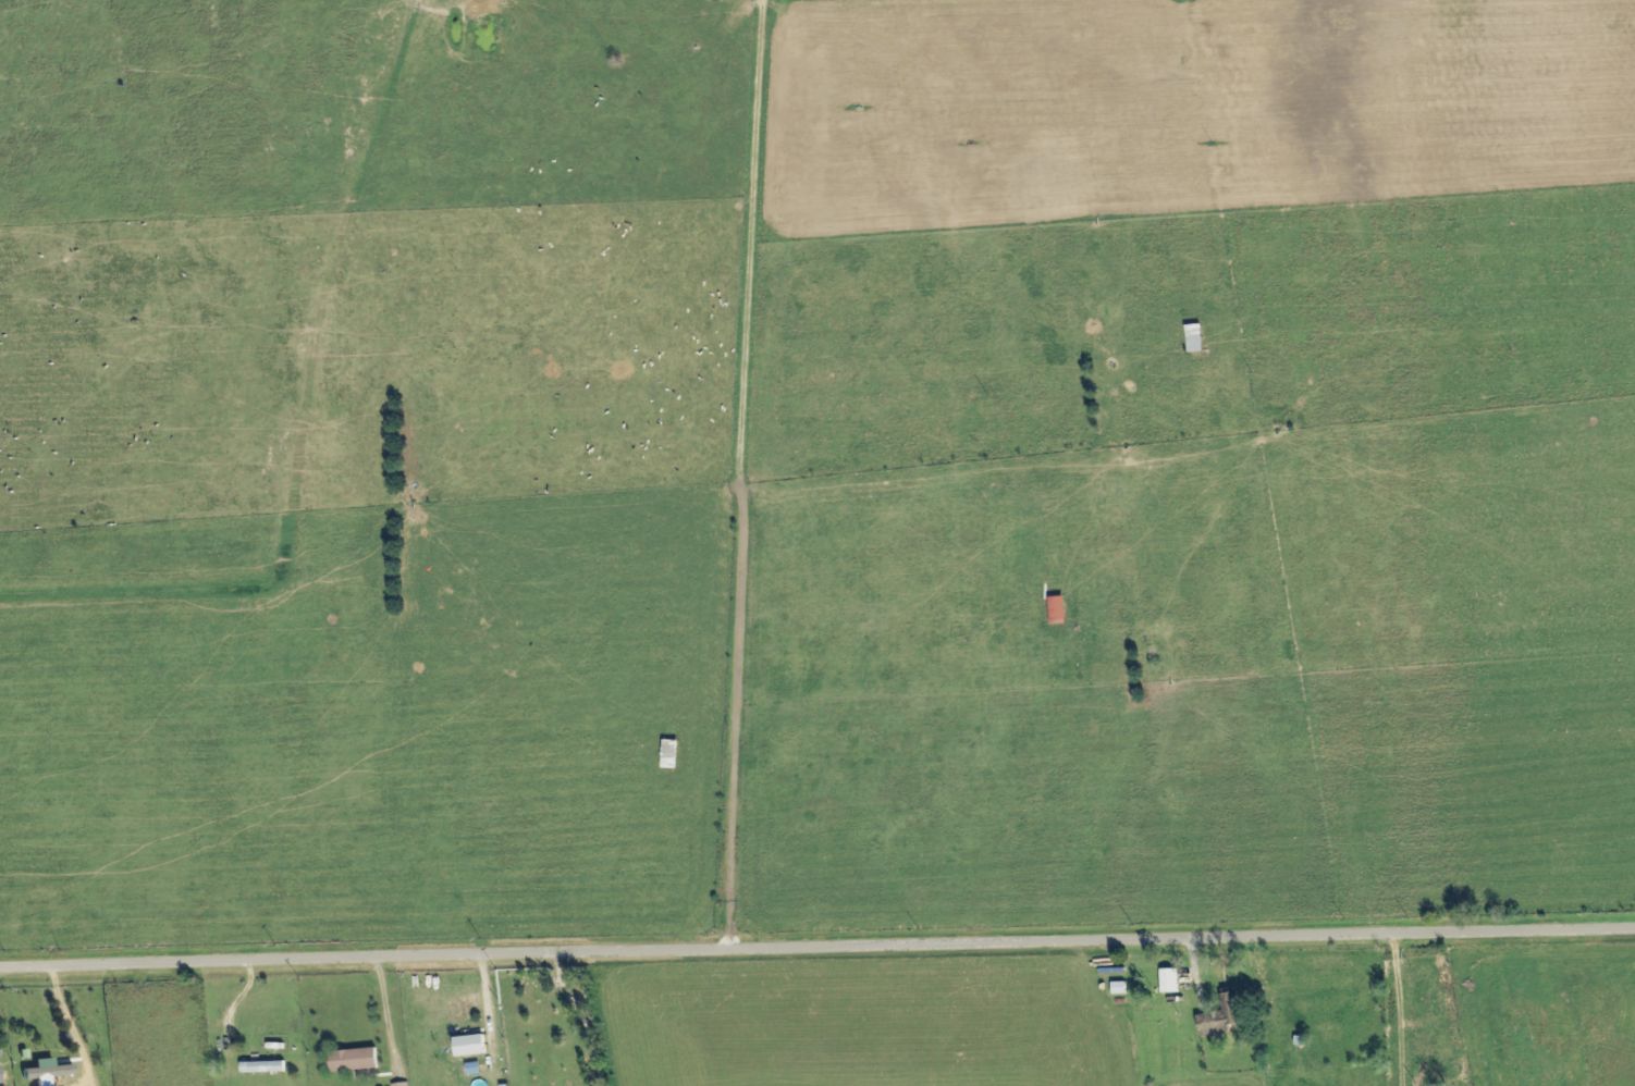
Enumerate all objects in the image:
road: (740, 474)
road: (817, 948)
road: (1398, 979)
building: (1172, 982)
road: (239, 1002)
road: (391, 1012)
building: (1222, 1017)
road: (69, 1019)
building: (472, 1046)
building: (357, 1060)
building: (266, 1068)
building: (48, 1072)
building: (2, 1073)
building: (404, 1084)

